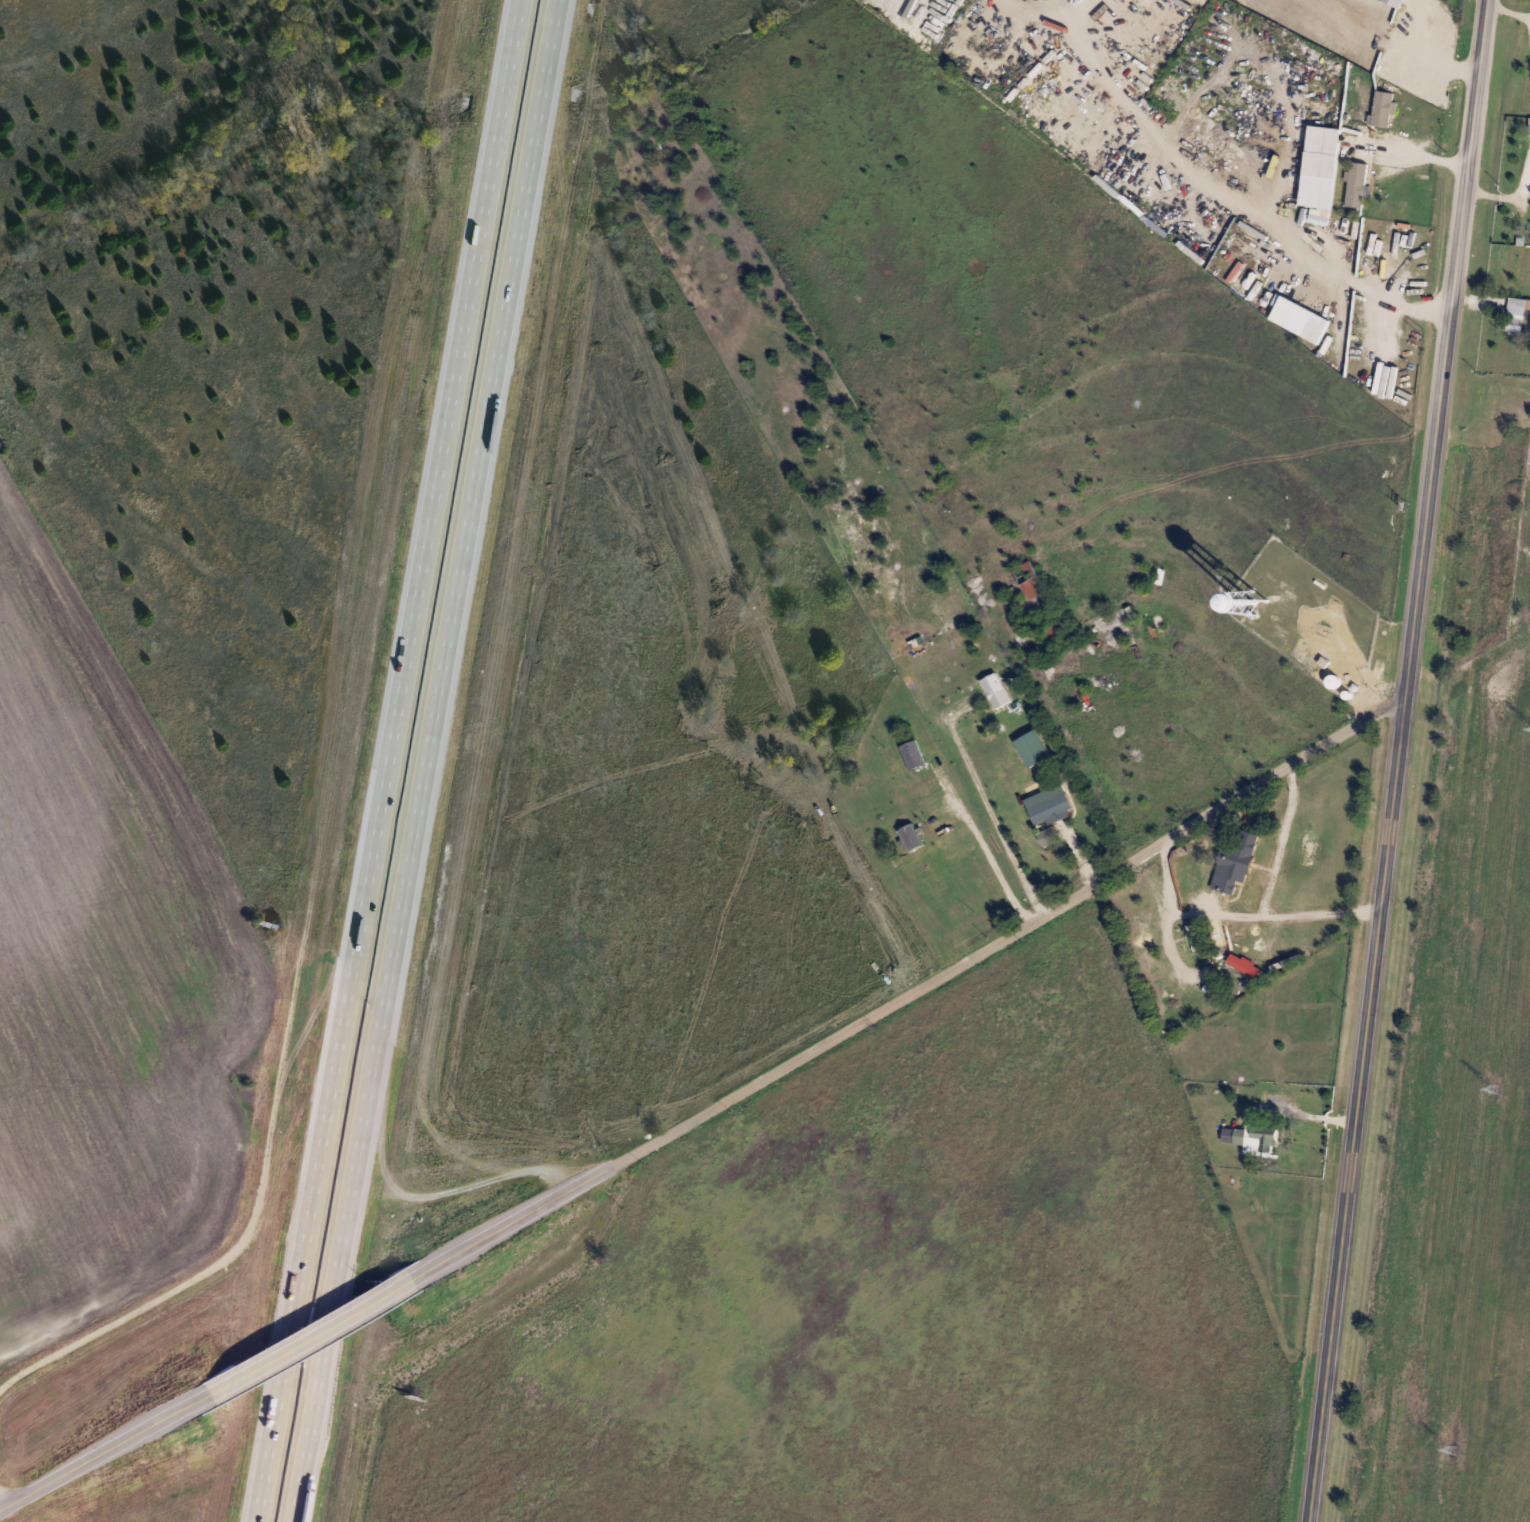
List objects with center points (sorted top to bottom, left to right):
building: (1395, 2)
road: (1371, 36)
road: (1433, 51)
building: (1382, 108)
road: (1423, 159)
building: (1358, 185)
road: (1227, 202)
building: (1302, 322)
building: (1516, 324)
building: (1029, 579)
water tower: (1255, 599)
building: (1060, 626)
building: (995, 689)
building: (1033, 747)
building: (912, 753)
road: (1398, 760)
road: (393, 761)
road: (420, 761)
building: (1034, 788)
road: (987, 806)
building: (1051, 809)
building: (911, 836)
road: (981, 837)
road: (1200, 854)
building: (1239, 860)
road: (938, 919)
road: (1234, 919)
road: (916, 982)
power tower: (1495, 1089)
road: (1284, 1102)
building: (1256, 1139)
railway: (1487, 1161)
road: (256, 1213)
road: (315, 1330)
building: (412, 1391)
road: (101, 1450)
power tower: (1452, 1450)

